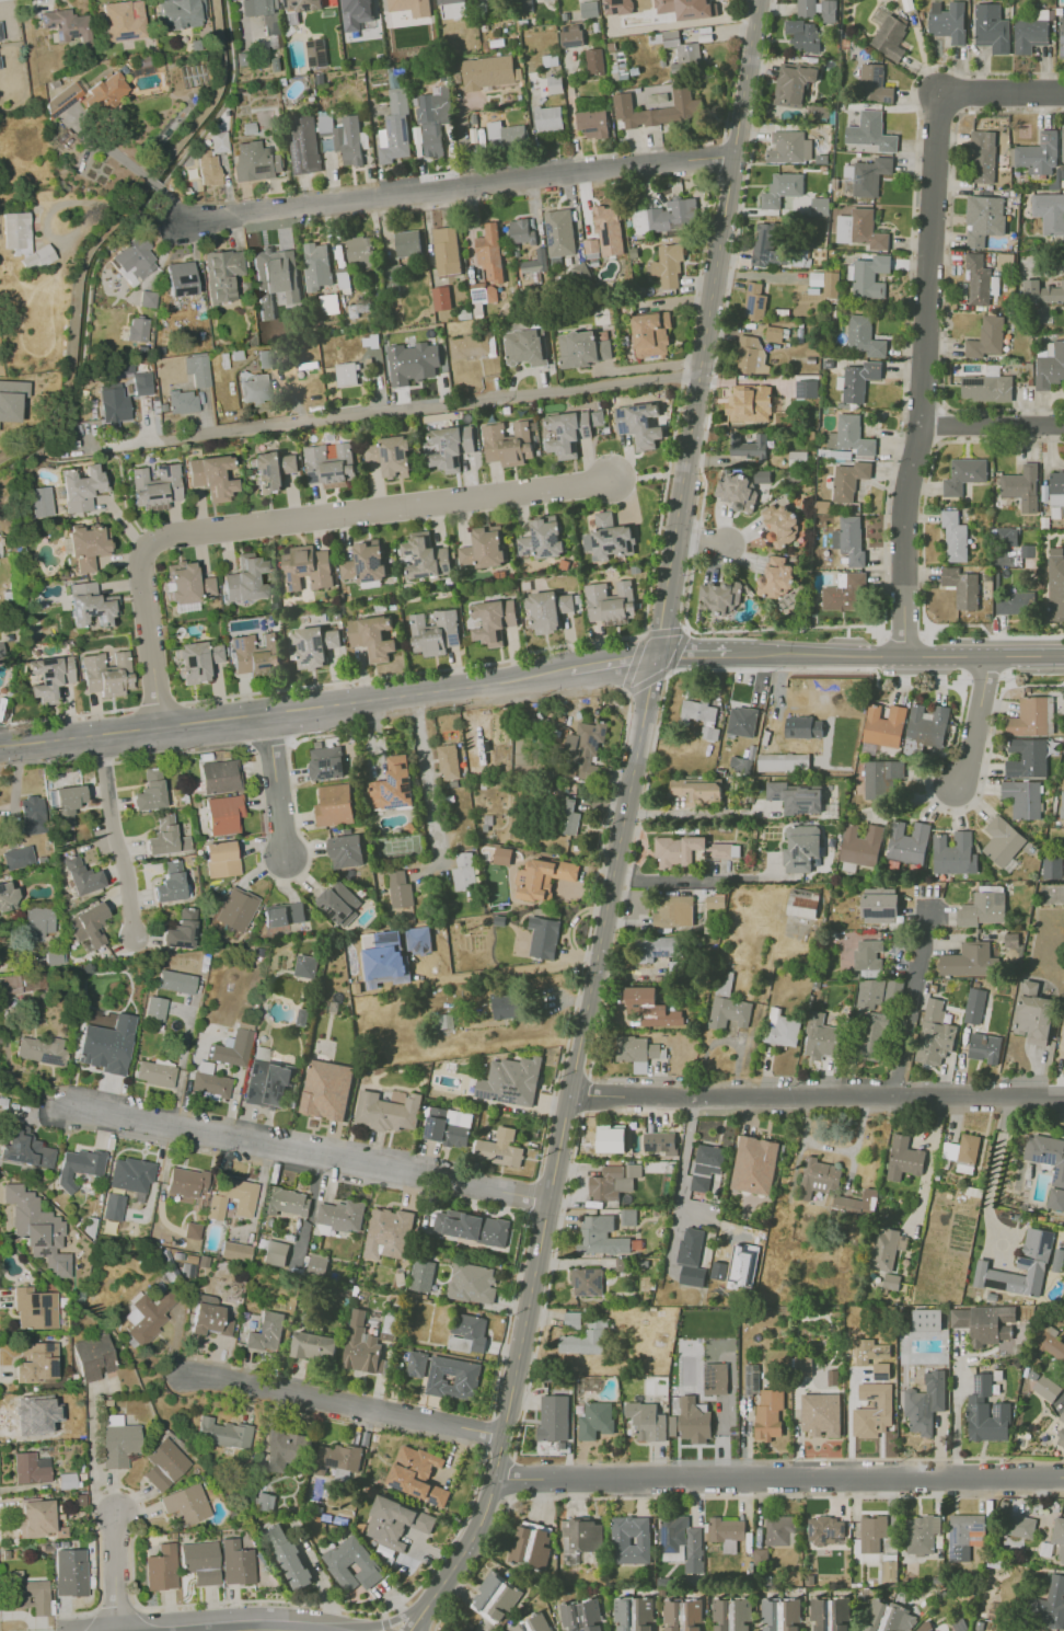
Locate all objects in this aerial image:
building: (550, 0)
building: (450, 1)
building: (482, 2)
building: (329, 3)
building: (302, 4)
building: (525, 5)
building: (413, 7)
building: (617, 7)
building: (683, 8)
building: (806, 8)
building: (590, 9)
building: (828, 11)
building: (182, 13)
building: (356, 13)
building: (265, 14)
building: (125, 20)
building: (947, 21)
building: (67, 25)
building: (991, 27)
building: (372, 30)
building: (1030, 33)
building: (802, 34)
building: (0, 36)
building: (1061, 36)
building: (574, 37)
building: (889, 37)
building: (458, 43)
building: (317, 53)
building: (683, 53)
building: (551, 60)
building: (595, 61)
building: (0, 65)
road: (733, 70)
building: (488, 72)
building: (320, 79)
building: (793, 83)
building: (874, 83)
building: (556, 84)
building: (103, 93)
road: (1003, 93)
building: (62, 100)
road: (570, 110)
building: (652, 110)
building: (493, 116)
building: (593, 117)
building: (435, 118)
building: (474, 118)
building: (550, 119)
building: (397, 127)
building: (248, 128)
building: (495, 129)
building: (870, 131)
building: (474, 135)
building: (514, 136)
building: (345, 137)
building: (220, 141)
building: (28, 145)
building: (305, 146)
building: (788, 147)
building: (1062, 147)
road: (108, 149)
building: (1039, 154)
building: (983, 157)
road: (718, 160)
building: (256, 162)
building: (209, 168)
building: (867, 175)
road: (158, 186)
road: (461, 187)
building: (780, 188)
road: (176, 204)
building: (819, 206)
road: (114, 207)
road: (137, 211)
building: (1050, 211)
building: (672, 215)
building: (605, 217)
building: (983, 219)
road: (164, 220)
road: (48, 227)
building: (860, 229)
building: (16, 230)
building: (522, 232)
building: (560, 233)
building: (408, 243)
building: (767, 244)
building: (359, 248)
building: (593, 248)
building: (448, 251)
building: (490, 253)
building: (279, 256)
building: (39, 257)
building: (135, 261)
building: (536, 262)
building: (669, 265)
building: (317, 266)
building: (582, 274)
building: (223, 275)
building: (392, 276)
building: (870, 276)
building: (344, 277)
building: (182, 279)
building: (980, 279)
building: (825, 283)
building: (1042, 291)
building: (484, 292)
building: (258, 296)
building: (442, 298)
building: (148, 299)
building: (754, 301)
building: (329, 303)
building: (201, 309)
road: (705, 326)
building: (138, 330)
building: (651, 334)
building: (774, 334)
building: (864, 336)
building: (986, 337)
building: (471, 346)
building: (527, 347)
building: (582, 349)
building: (751, 356)
building: (267, 358)
building: (421, 360)
building: (1050, 367)
building: (198, 369)
building: (122, 371)
road: (924, 371)
building: (347, 374)
building: (858, 380)
building: (142, 383)
building: (806, 388)
building: (986, 388)
building: (256, 390)
building: (11, 399)
building: (183, 401)
building: (749, 403)
building: (114, 404)
road: (408, 412)
building: (597, 417)
building: (638, 424)
road: (992, 426)
building: (567, 433)
building: (854, 435)
building: (831, 439)
building: (507, 444)
building: (748, 446)
building: (451, 447)
building: (390, 456)
building: (797, 459)
building: (329, 463)
building: (271, 470)
road: (647, 474)
building: (963, 475)
building: (210, 476)
building: (848, 480)
building: (155, 485)
building: (80, 487)
building: (1021, 487)
building: (740, 489)
building: (1056, 489)
building: (38, 501)
road: (286, 519)
building: (780, 525)
building: (953, 536)
building: (1006, 537)
building: (542, 538)
building: (608, 538)
building: (849, 539)
road: (699, 541)
building: (85, 547)
building: (483, 548)
building: (426, 556)
building: (365, 562)
building: (307, 567)
building: (245, 578)
building: (776, 578)
building: (186, 583)
building: (1055, 584)
building: (961, 587)
building: (845, 593)
building: (720, 595)
building: (611, 602)
building: (1014, 602)
building: (88, 605)
building: (494, 620)
road: (786, 628)
building: (435, 632)
road: (987, 633)
road: (637, 635)
building: (372, 638)
road: (903, 639)
building: (314, 645)
road: (692, 650)
road: (897, 650)
building: (1, 651)
building: (254, 654)
building: (196, 661)
road: (610, 662)
road: (984, 673)
building: (106, 674)
building: (48, 677)
road: (1030, 685)
road: (626, 688)
road: (155, 705)
road: (284, 713)
road: (73, 715)
building: (701, 716)
building: (1032, 716)
road: (659, 719)
building: (742, 721)
road: (974, 721)
building: (883, 725)
building: (803, 727)
building: (926, 727)
building: (585, 747)
building: (1027, 758)
building: (448, 761)
building: (783, 761)
building: (326, 762)
building: (741, 765)
road: (430, 774)
building: (219, 777)
building: (881, 778)
building: (393, 785)
road: (277, 788)
building: (149, 791)
building: (795, 797)
building: (1023, 799)
building: (1063, 799)
building: (65, 805)
building: (334, 805)
road: (694, 812)
building: (31, 814)
building: (222, 814)
building: (566, 816)
building: (165, 837)
road: (117, 838)
building: (1002, 841)
building: (907, 842)
building: (860, 845)
building: (801, 848)
building: (676, 850)
building: (722, 850)
building: (346, 851)
building: (953, 853)
building: (502, 855)
building: (18, 858)
building: (220, 859)
building: (1052, 868)
building: (463, 872)
building: (81, 876)
building: (543, 878)
road: (704, 878)
building: (169, 883)
building: (400, 889)
building: (7, 896)
building: (715, 900)
building: (339, 903)
building: (802, 903)
building: (879, 905)
building: (235, 909)
building: (982, 909)
building: (673, 910)
building: (282, 915)
building: (37, 923)
building: (86, 924)
building: (180, 930)
road: (587, 935)
building: (543, 938)
building: (659, 947)
building: (868, 957)
building: (969, 960)
building: (305, 966)
building: (175, 981)
building: (9, 984)
building: (878, 992)
road: (912, 1004)
building: (974, 1006)
building: (506, 1007)
building: (649, 1007)
building: (154, 1008)
building: (728, 1012)
building: (1033, 1014)
building: (780, 1029)
building: (934, 1034)
building: (870, 1036)
building: (820, 1037)
building: (1062, 1041)
building: (106, 1045)
building: (984, 1047)
building: (233, 1048)
building: (39, 1049)
building: (636, 1052)
building: (261, 1053)
building: (154, 1073)
building: (209, 1081)
building: (510, 1081)
building: (266, 1084)
building: (326, 1089)
road: (583, 1094)
road: (817, 1096)
building: (386, 1111)
building: (448, 1126)
road: (560, 1137)
building: (611, 1139)
building: (659, 1142)
road: (934, 1144)
building: (24, 1148)
building: (499, 1148)
building: (962, 1152)
road: (308, 1153)
building: (1046, 1155)
building: (903, 1158)
road: (682, 1164)
building: (754, 1164)
building: (79, 1165)
building: (705, 1165)
road: (995, 1172)
building: (130, 1174)
building: (818, 1178)
building: (186, 1181)
building: (613, 1181)
road: (531, 1196)
building: (232, 1197)
building: (1055, 1198)
building: (287, 1202)
building: (857, 1204)
building: (112, 1206)
building: (339, 1217)
building: (471, 1227)
building: (36, 1229)
building: (192, 1230)
building: (388, 1233)
building: (600, 1236)
building: (690, 1245)
building: (886, 1249)
building: (235, 1251)
building: (275, 1253)
building: (317, 1264)
building: (1025, 1265)
building: (421, 1275)
building: (692, 1276)
building: (587, 1280)
building: (890, 1280)
building: (472, 1283)
road: (547, 1286)
building: (34, 1308)
building: (148, 1314)
road: (508, 1316)
building: (208, 1317)
building: (926, 1319)
building: (573, 1320)
building: (986, 1325)
building: (266, 1332)
building: (469, 1333)
building: (585, 1339)
building: (314, 1345)
building: (1053, 1345)
building: (361, 1346)
building: (93, 1357)
building: (36, 1362)
building: (416, 1364)
building: (881, 1370)
building: (751, 1377)
building: (453, 1378)
building: (715, 1378)
building: (824, 1378)
building: (1046, 1388)
building: (925, 1402)
road: (345, 1403)
building: (872, 1410)
building: (986, 1412)
road: (956, 1413)
building: (768, 1414)
building: (821, 1414)
building: (24, 1416)
building: (553, 1417)
building: (1062, 1417)
building: (594, 1420)
building: (694, 1420)
building: (646, 1421)
building: (222, 1433)
road: (487, 1433)
building: (1061, 1438)
building: (117, 1442)
building: (286, 1449)
road: (91, 1457)
building: (337, 1458)
building: (163, 1463)
building: (30, 1468)
building: (416, 1474)
road: (508, 1477)
road: (1038, 1480)
road: (901, 1481)
road: (644, 1482)
building: (264, 1502)
building: (185, 1504)
building: (35, 1518)
building: (395, 1523)
building: (1019, 1526)
building: (778, 1529)
building: (825, 1530)
building: (727, 1532)
building: (871, 1532)
building: (922, 1534)
building: (963, 1535)
building: (581, 1537)
building: (1059, 1537)
building: (629, 1539)
building: (681, 1542)
building: (531, 1544)
building: (288, 1555)
building: (199, 1561)
road: (482, 1561)
building: (235, 1563)
building: (352, 1564)
building: (161, 1567)
building: (889, 1570)
building: (69, 1572)
road: (118, 1572)
road: (316, 1574)
building: (495, 1598)
building: (1052, 1603)
road: (114, 1608)
road: (358, 1611)
road: (76, 1613)
building: (633, 1613)
building: (830, 1613)
building: (731, 1615)
building: (780, 1615)
building: (581, 1616)
building: (682, 1616)
road: (421, 1618)
road: (426, 1618)
building: (888, 1618)
road: (395, 1619)
road: (56, 1623)
road: (384, 1623)
road: (435, 1623)
building: (923, 1628)

